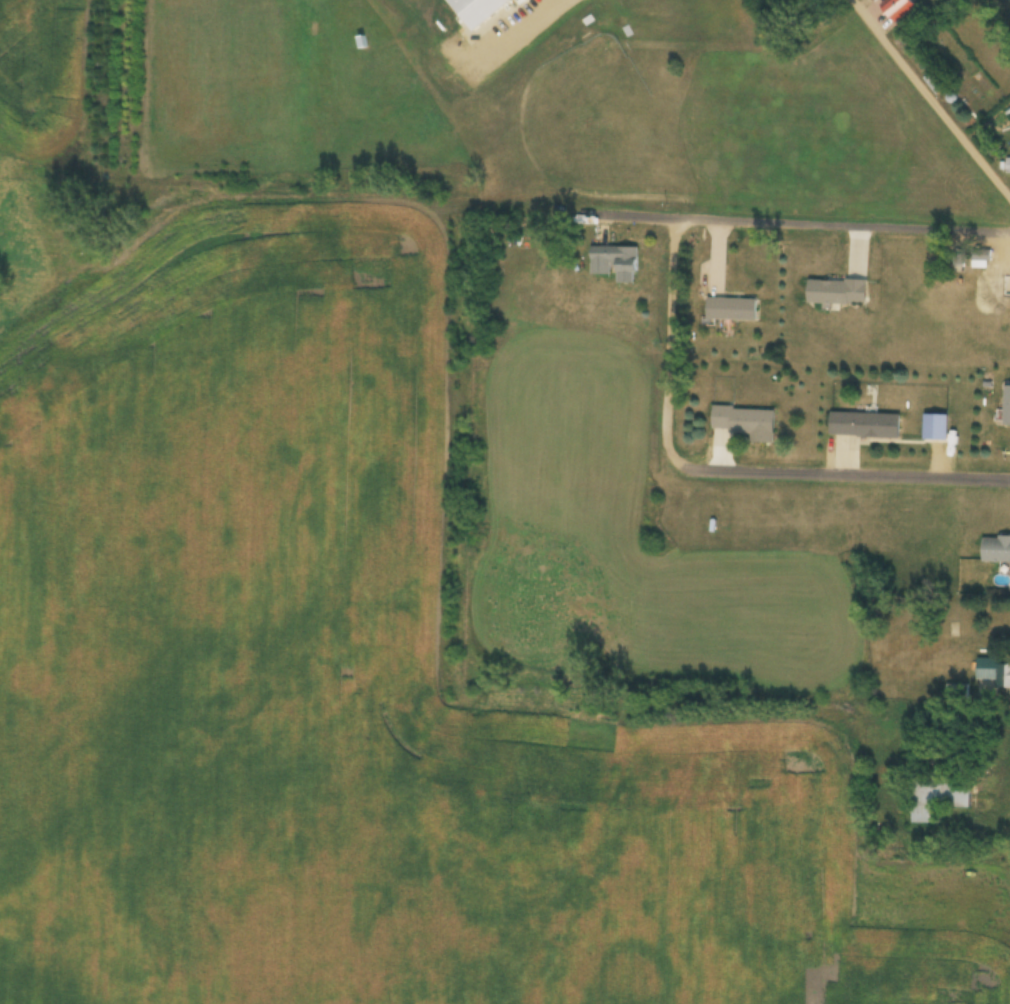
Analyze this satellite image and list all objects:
road: (566, 38)
road: (927, 100)
road: (574, 188)
road: (796, 225)
building: (615, 263)
building: (731, 309)
road: (670, 318)
building: (1006, 406)
building: (745, 423)
building: (864, 426)
road: (815, 477)
building: (995, 550)
building: (993, 672)
building: (955, 690)
building: (937, 798)

